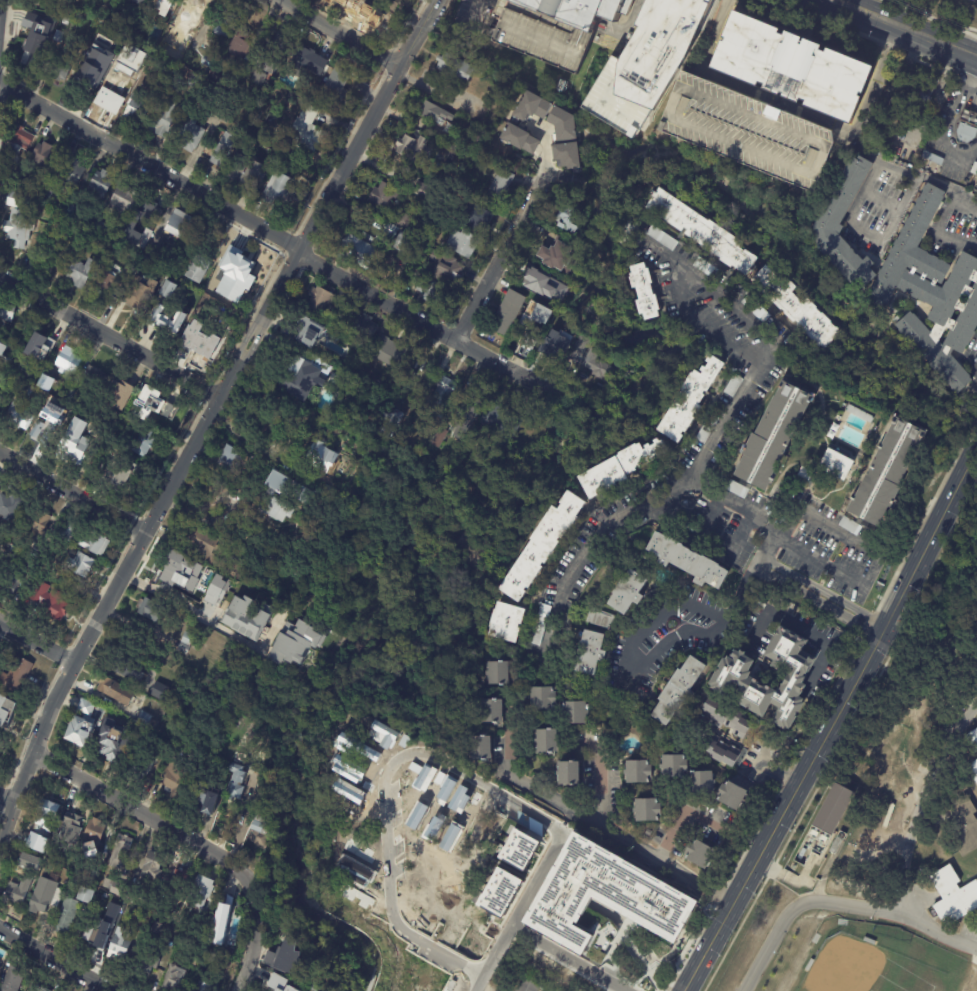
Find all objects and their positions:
building: (136, 2)
building: (389, 3)
building: (355, 5)
building: (162, 6)
building: (195, 8)
park: (0, 10)
park: (946, 12)
road: (1, 13)
road: (922, 13)
building: (143, 15)
road: (847, 16)
building: (370, 17)
building: (178, 20)
building: (64, 21)
road: (919, 23)
building: (36, 24)
building: (222, 25)
building: (550, 26)
road: (967, 27)
building: (102, 32)
road: (337, 33)
road: (965, 33)
building: (174, 35)
building: (57, 37)
road: (903, 38)
building: (237, 45)
building: (133, 53)
building: (273, 53)
road: (945, 55)
building: (31, 57)
building: (204, 61)
building: (305, 62)
building: (646, 62)
building: (791, 66)
road: (975, 66)
building: (134, 67)
building: (58, 68)
building: (454, 68)
building: (481, 73)
building: (88, 74)
building: (159, 74)
building: (256, 78)
building: (174, 82)
building: (194, 82)
building: (117, 85)
building: (334, 88)
building: (310, 93)
building: (922, 97)
road: (790, 105)
building: (217, 106)
building: (136, 110)
building: (434, 113)
building: (546, 115)
building: (968, 116)
building: (164, 120)
building: (272, 121)
road: (367, 123)
road: (949, 123)
building: (893, 128)
building: (449, 129)
building: (743, 129)
parking lot: (743, 129)
building: (306, 131)
building: (964, 131)
building: (189, 135)
building: (519, 139)
building: (20, 142)
building: (243, 142)
building: (222, 150)
building: (414, 150)
building: (45, 155)
building: (566, 156)
building: (932, 158)
road: (150, 165)
building: (974, 169)
building: (244, 172)
building: (74, 174)
road: (918, 177)
parking lot: (976, 181)
building: (102, 186)
building: (498, 188)
building: (275, 190)
building: (423, 191)
building: (843, 193)
building: (48, 195)
building: (382, 196)
building: (54, 197)
building: (125, 199)
building: (21, 200)
road: (964, 207)
building: (54, 218)
building: (476, 218)
building: (399, 219)
building: (567, 220)
building: (178, 223)
building: (134, 226)
building: (20, 228)
building: (628, 230)
road: (943, 230)
building: (701, 232)
building: (389, 233)
building: (661, 237)
building: (229, 239)
building: (403, 243)
building: (461, 243)
building: (355, 252)
building: (117, 254)
building: (70, 255)
building: (151, 255)
building: (556, 258)
building: (237, 259)
road: (498, 260)
building: (704, 267)
building: (446, 269)
building: (199, 270)
building: (83, 273)
building: (108, 282)
building: (540, 282)
building: (167, 289)
building: (211, 290)
building: (431, 292)
building: (645, 292)
building: (931, 292)
building: (142, 294)
building: (321, 304)
building: (755, 308)
building: (796, 310)
building: (507, 312)
building: (7, 313)
building: (535, 317)
building: (558, 320)
building: (163, 321)
building: (364, 328)
building: (310, 331)
road: (440, 332)
road: (109, 335)
building: (530, 342)
building: (212, 344)
building: (45, 347)
building: (578, 348)
building: (548, 350)
building: (390, 352)
building: (3, 354)
building: (70, 361)
building: (596, 367)
building: (17, 371)
road: (974, 371)
building: (410, 375)
building: (307, 377)
building: (94, 381)
building: (49, 384)
building: (385, 385)
building: (734, 385)
building: (71, 396)
building: (119, 397)
building: (440, 397)
building: (688, 400)
building: (156, 404)
building: (132, 410)
building: (25, 413)
building: (466, 415)
road: (725, 421)
building: (499, 423)
building: (387, 424)
building: (708, 427)
building: (772, 436)
building: (438, 437)
building: (77, 443)
building: (141, 444)
road: (976, 447)
building: (322, 457)
building: (232, 460)
building: (836, 464)
building: (620, 469)
building: (886, 473)
building: (805, 474)
building: (125, 479)
building: (4, 488)
building: (735, 490)
road: (72, 492)
building: (306, 497)
building: (11, 507)
road: (707, 517)
building: (37, 525)
road: (604, 525)
road: (823, 526)
building: (848, 526)
building: (71, 532)
road: (741, 537)
road: (141, 538)
building: (97, 544)
building: (539, 547)
building: (42, 552)
building: (213, 553)
road: (818, 559)
building: (687, 562)
building: (82, 565)
building: (188, 567)
building: (11, 581)
road: (168, 589)
building: (219, 589)
building: (627, 594)
building: (52, 601)
building: (148, 609)
building: (246, 617)
building: (599, 619)
building: (505, 622)
building: (540, 624)
road: (805, 635)
road: (36, 641)
building: (185, 643)
building: (294, 643)
building: (590, 654)
road: (648, 657)
building: (127, 670)
building: (17, 674)
building: (494, 675)
building: (732, 679)
building: (113, 690)
building: (159, 691)
building: (678, 691)
building: (542, 699)
building: (8, 711)
building: (490, 714)
building: (572, 714)
building: (87, 717)
building: (143, 719)
building: (725, 719)
road: (831, 720)
building: (974, 735)
park: (376, 736)
building: (112, 741)
building: (544, 743)
building: (2, 750)
building: (478, 750)
building: (719, 751)
building: (143, 765)
building: (673, 766)
building: (973, 769)
road: (782, 770)
building: (637, 773)
building: (567, 775)
building: (171, 783)
building: (235, 783)
building: (701, 783)
road: (599, 788)
building: (731, 797)
building: (203, 798)
road: (6, 799)
road: (918, 804)
building: (647, 812)
road: (146, 815)
road: (569, 816)
building: (824, 822)
building: (41, 826)
building: (964, 826)
building: (71, 827)
building: (258, 828)
building: (94, 832)
building: (837, 843)
building: (518, 849)
building: (121, 851)
building: (700, 856)
building: (27, 861)
building: (261, 863)
building: (149, 866)
building: (90, 875)
road: (976, 876)
road: (391, 877)
building: (177, 883)
road: (819, 884)
building: (112, 887)
building: (17, 891)
building: (199, 892)
building: (611, 895)
building: (44, 896)
building: (953, 896)
road: (842, 904)
building: (70, 909)
road: (519, 910)
building: (138, 918)
building: (221, 919)
building: (154, 928)
building: (90, 936)
building: (171, 940)
road: (254, 940)
building: (871, 942)
building: (217, 943)
building: (120, 948)
building: (284, 956)
road: (572, 957)
park: (863, 957)
road: (60, 959)
building: (194, 959)
building: (213, 959)
building: (0, 963)
building: (148, 966)
building: (808, 967)
building: (428, 970)
building: (173, 975)
building: (14, 980)
building: (279, 983)
building: (527, 986)
building: (204, 987)
building: (35, 989)
building: (408, 989)

